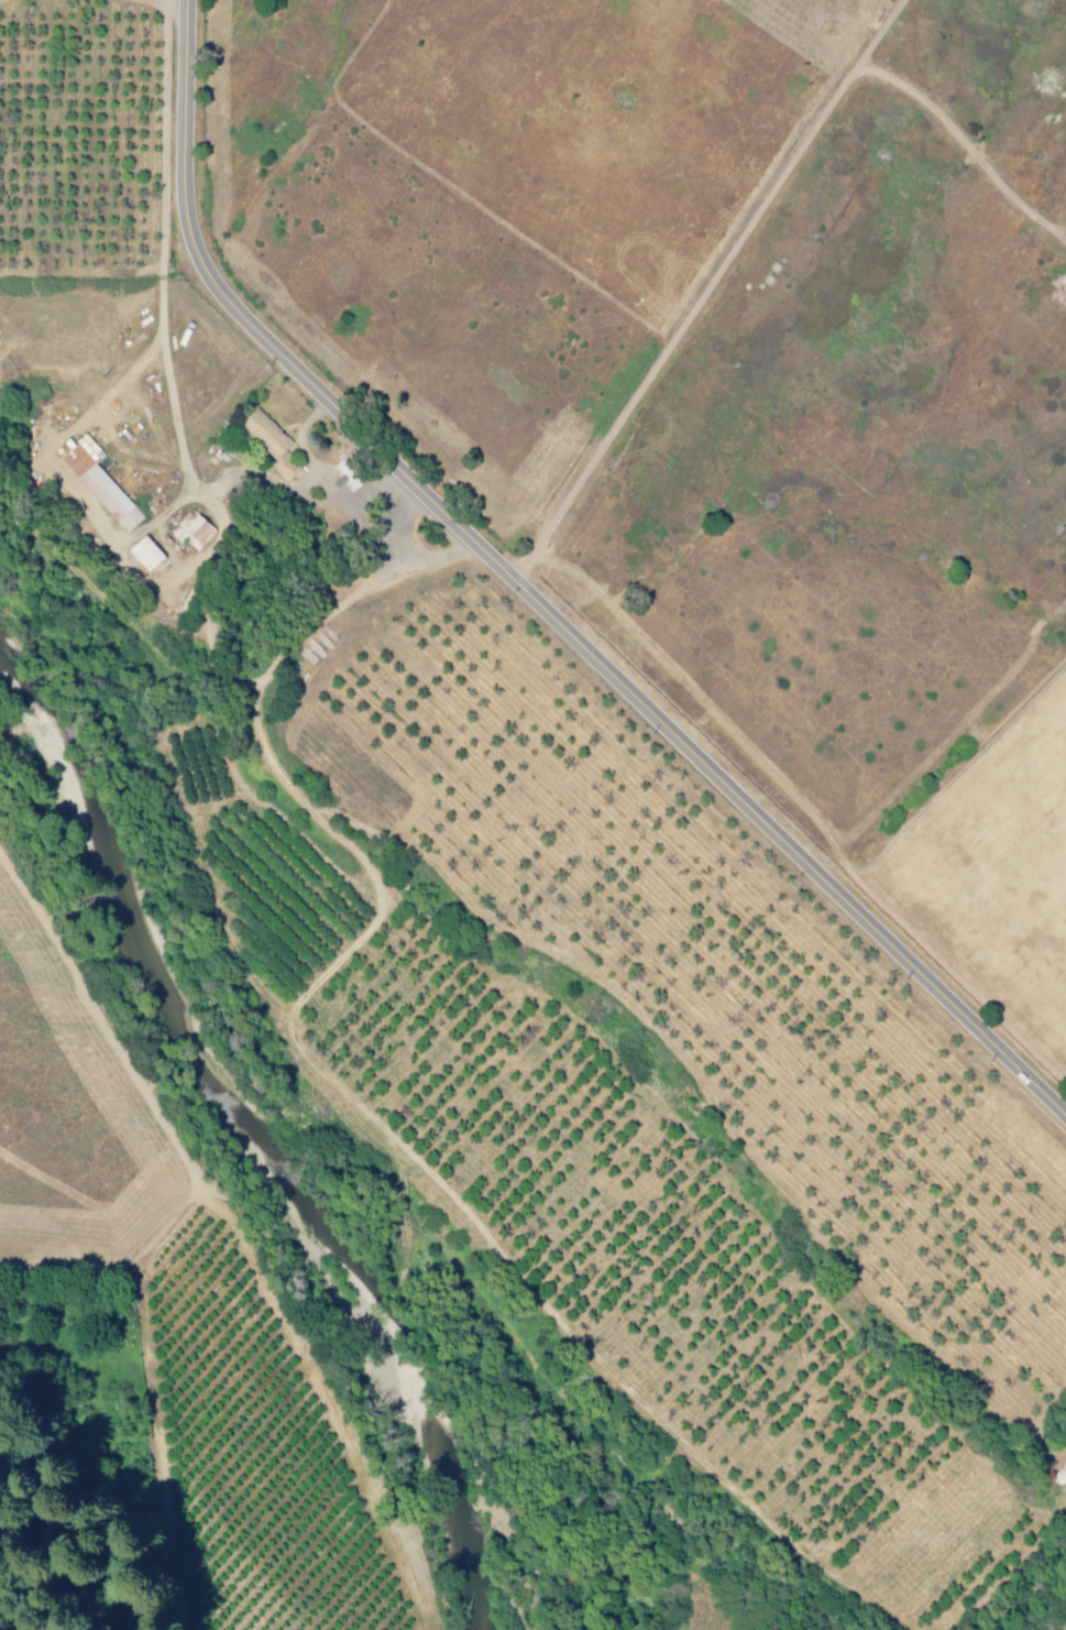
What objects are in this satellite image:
road: (712, 292)
road: (790, 430)
building: (262, 434)
building: (344, 472)
building: (97, 486)
road: (351, 496)
building: (190, 532)
road: (402, 546)
building: (141, 555)
road: (535, 601)
river: (254, 1183)
road: (154, 1389)
road: (25, 1553)

